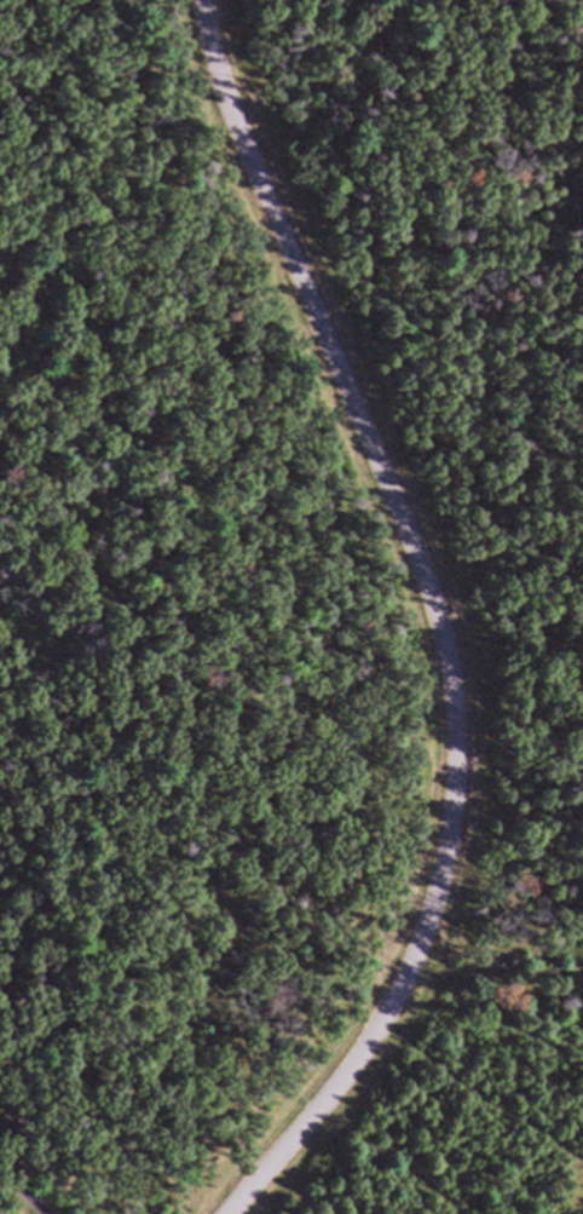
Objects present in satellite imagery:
road: (431, 620)

